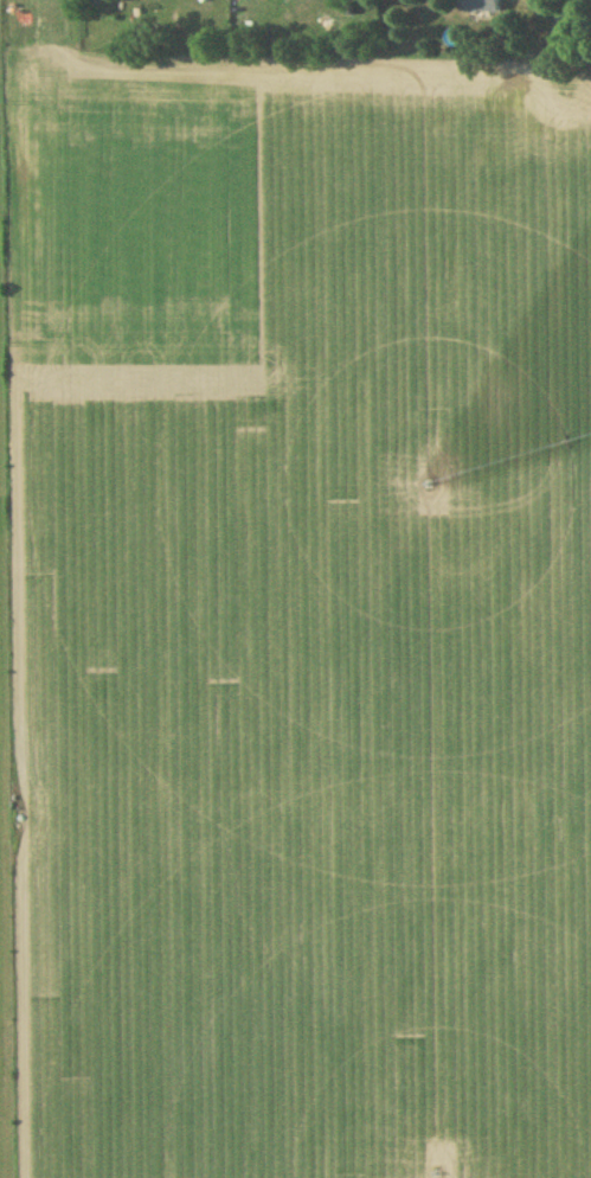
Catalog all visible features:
building: (482, 5)

